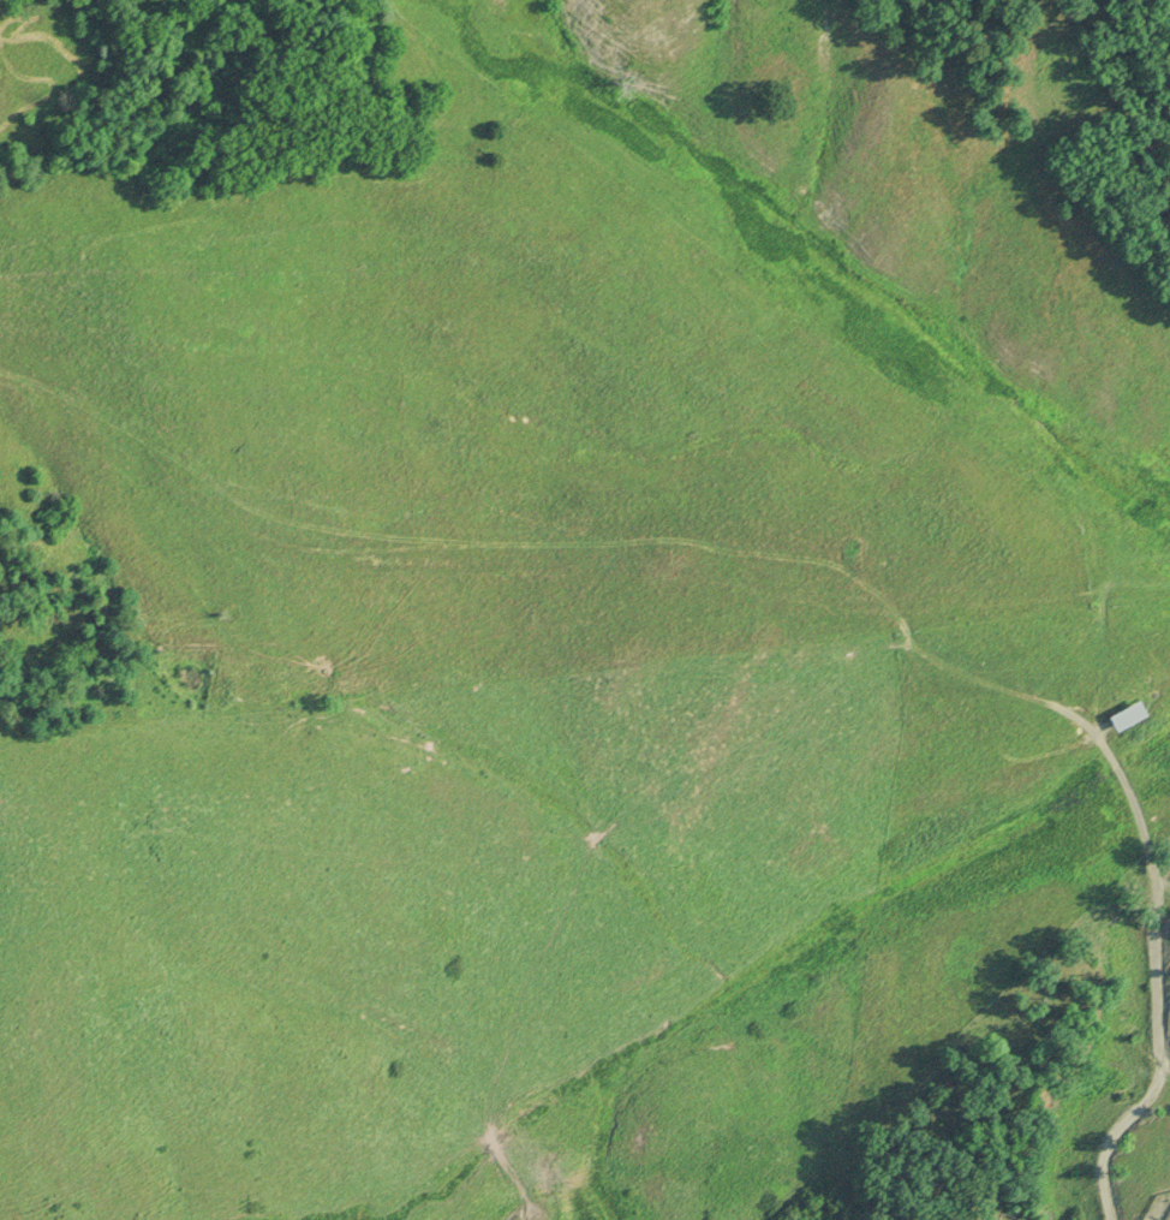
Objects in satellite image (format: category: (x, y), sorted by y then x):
building: (1122, 715)

